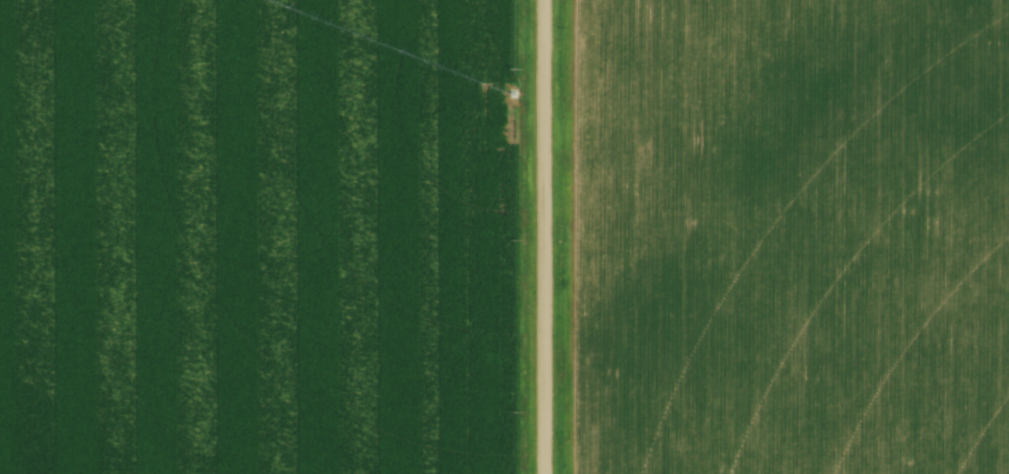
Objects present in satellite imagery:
road: (542, 237)

